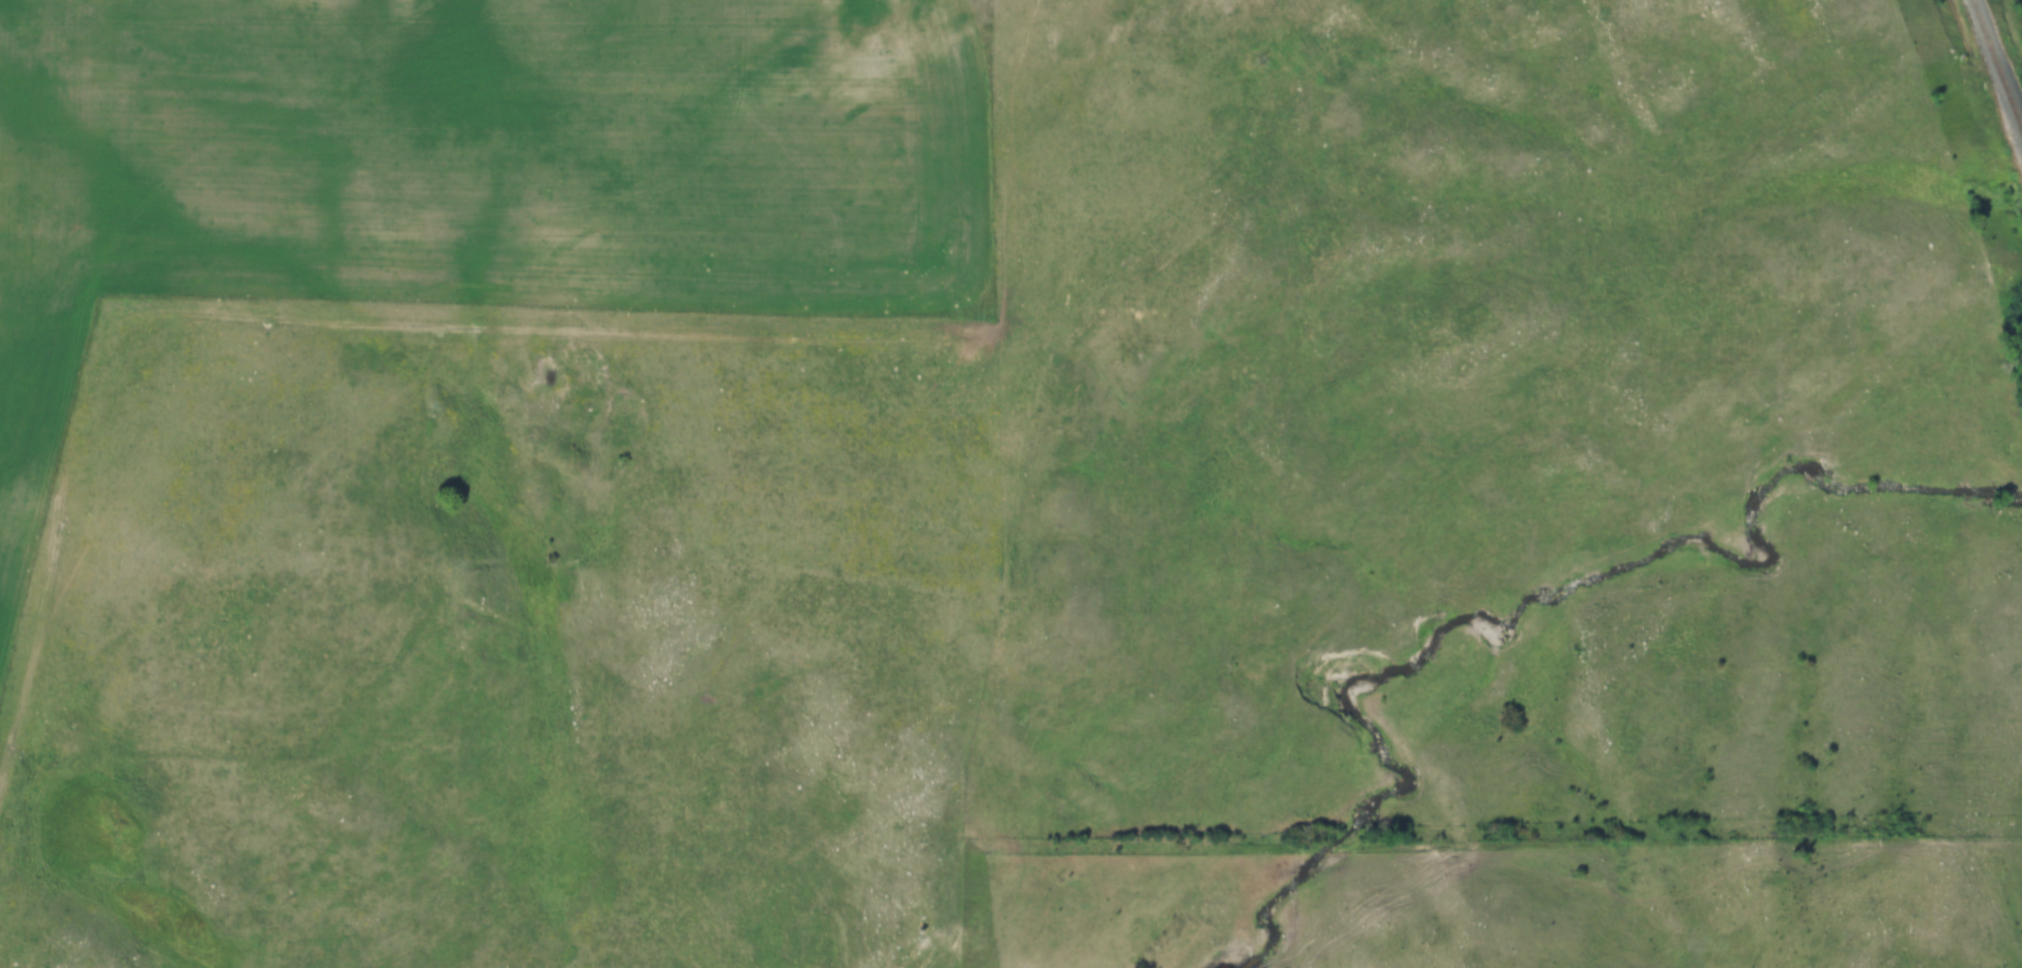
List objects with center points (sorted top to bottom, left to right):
railway: (1988, 97)
road: (56, 548)

